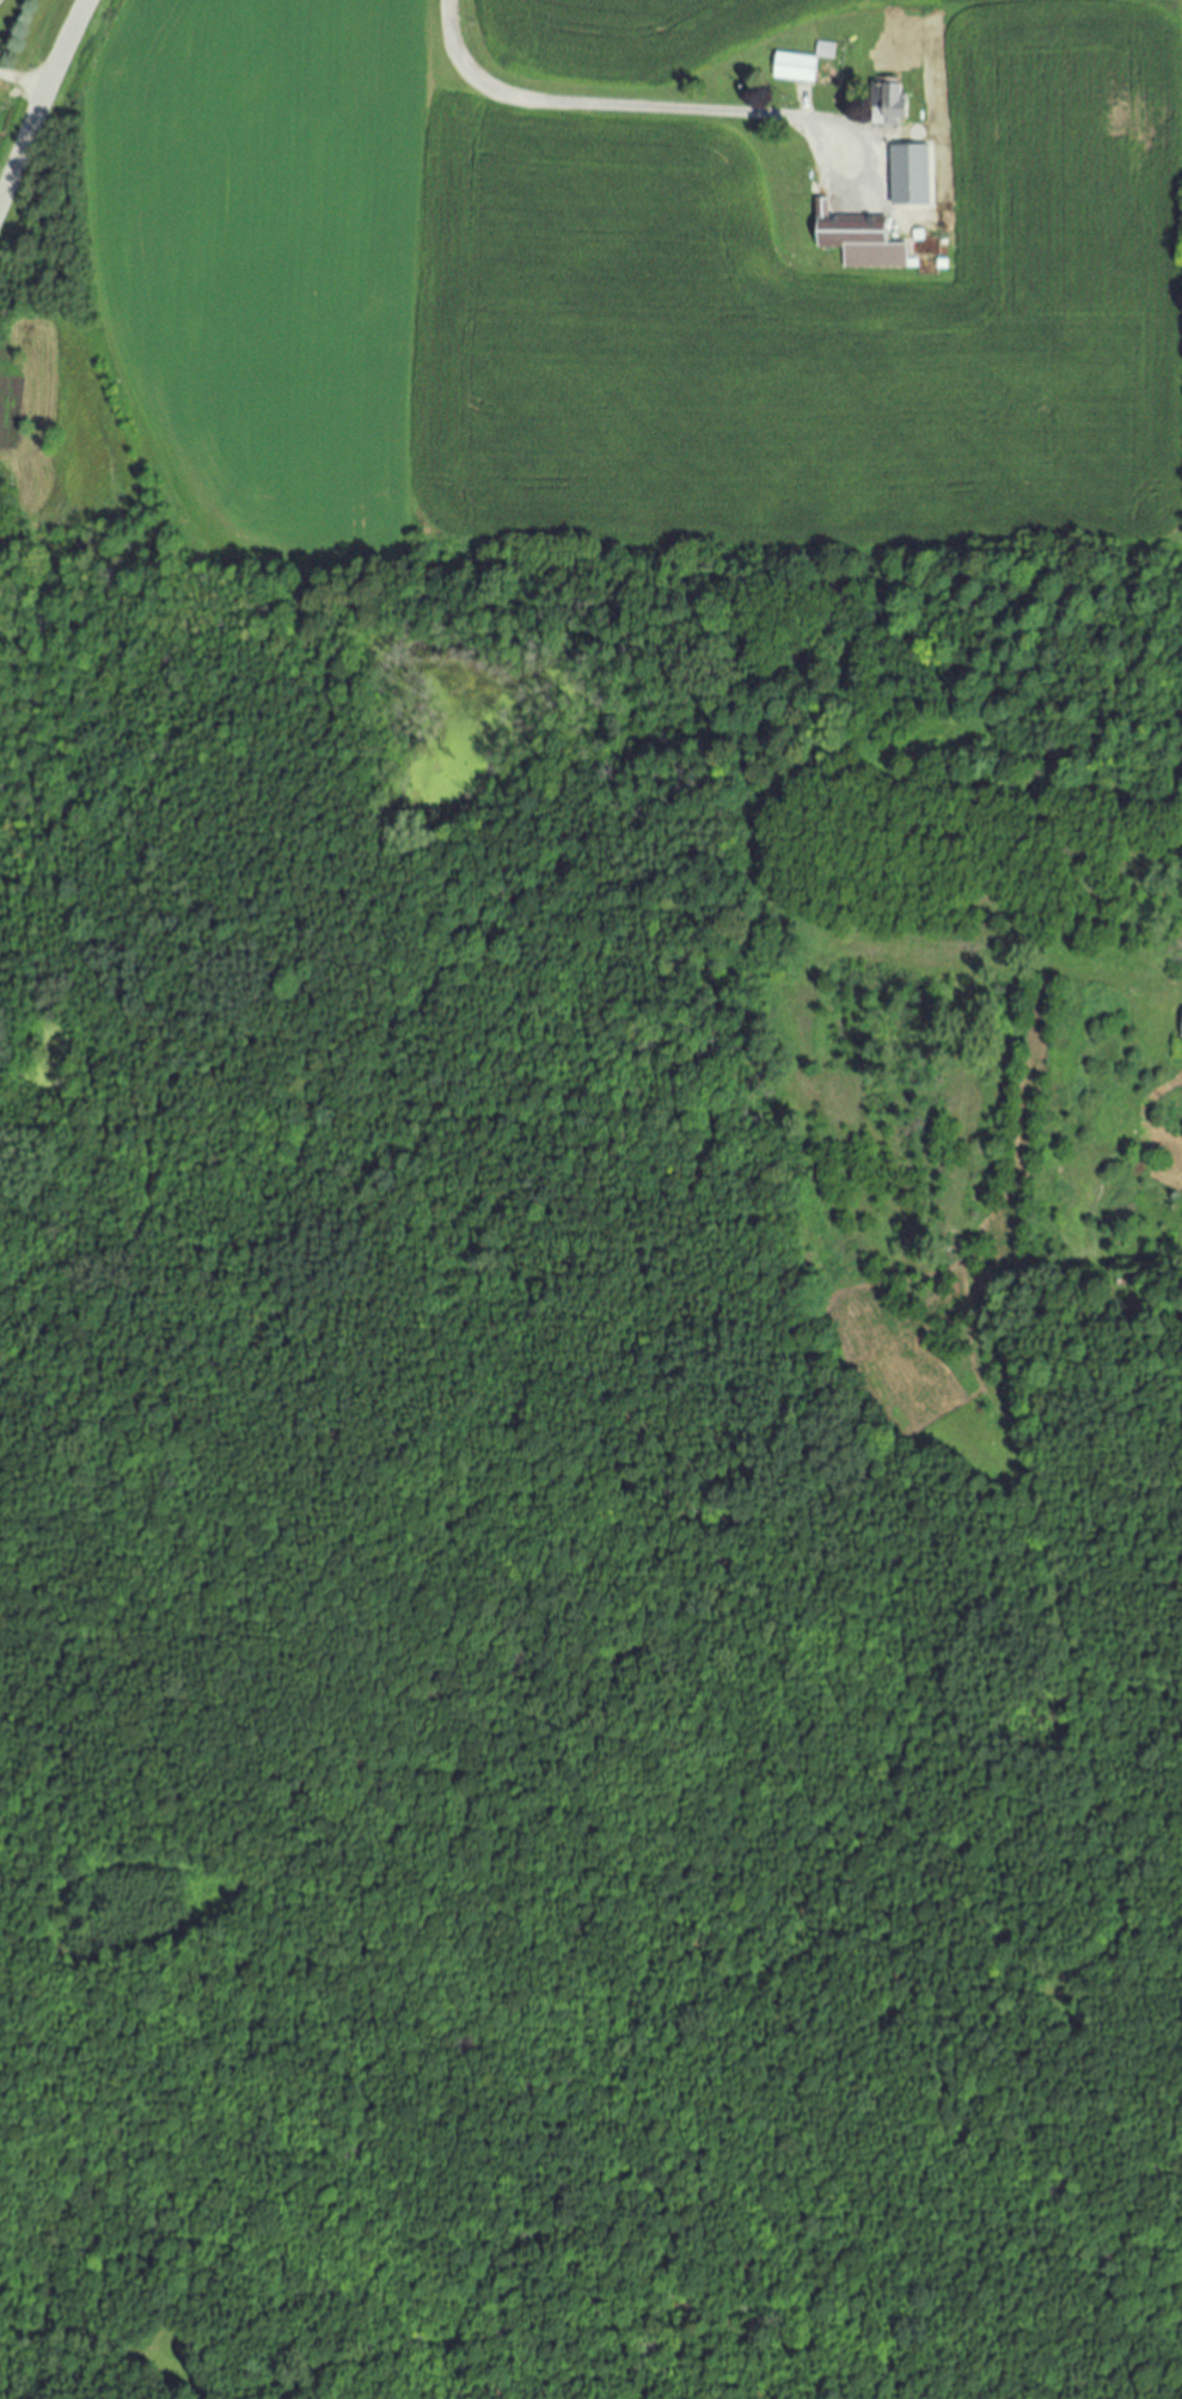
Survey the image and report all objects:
building: (822, 51)
building: (790, 69)
road: (23, 80)
road: (39, 98)
road: (592, 106)
building: (886, 108)
road: (866, 176)
building: (905, 177)
building: (853, 239)
building: (1180, 1027)

